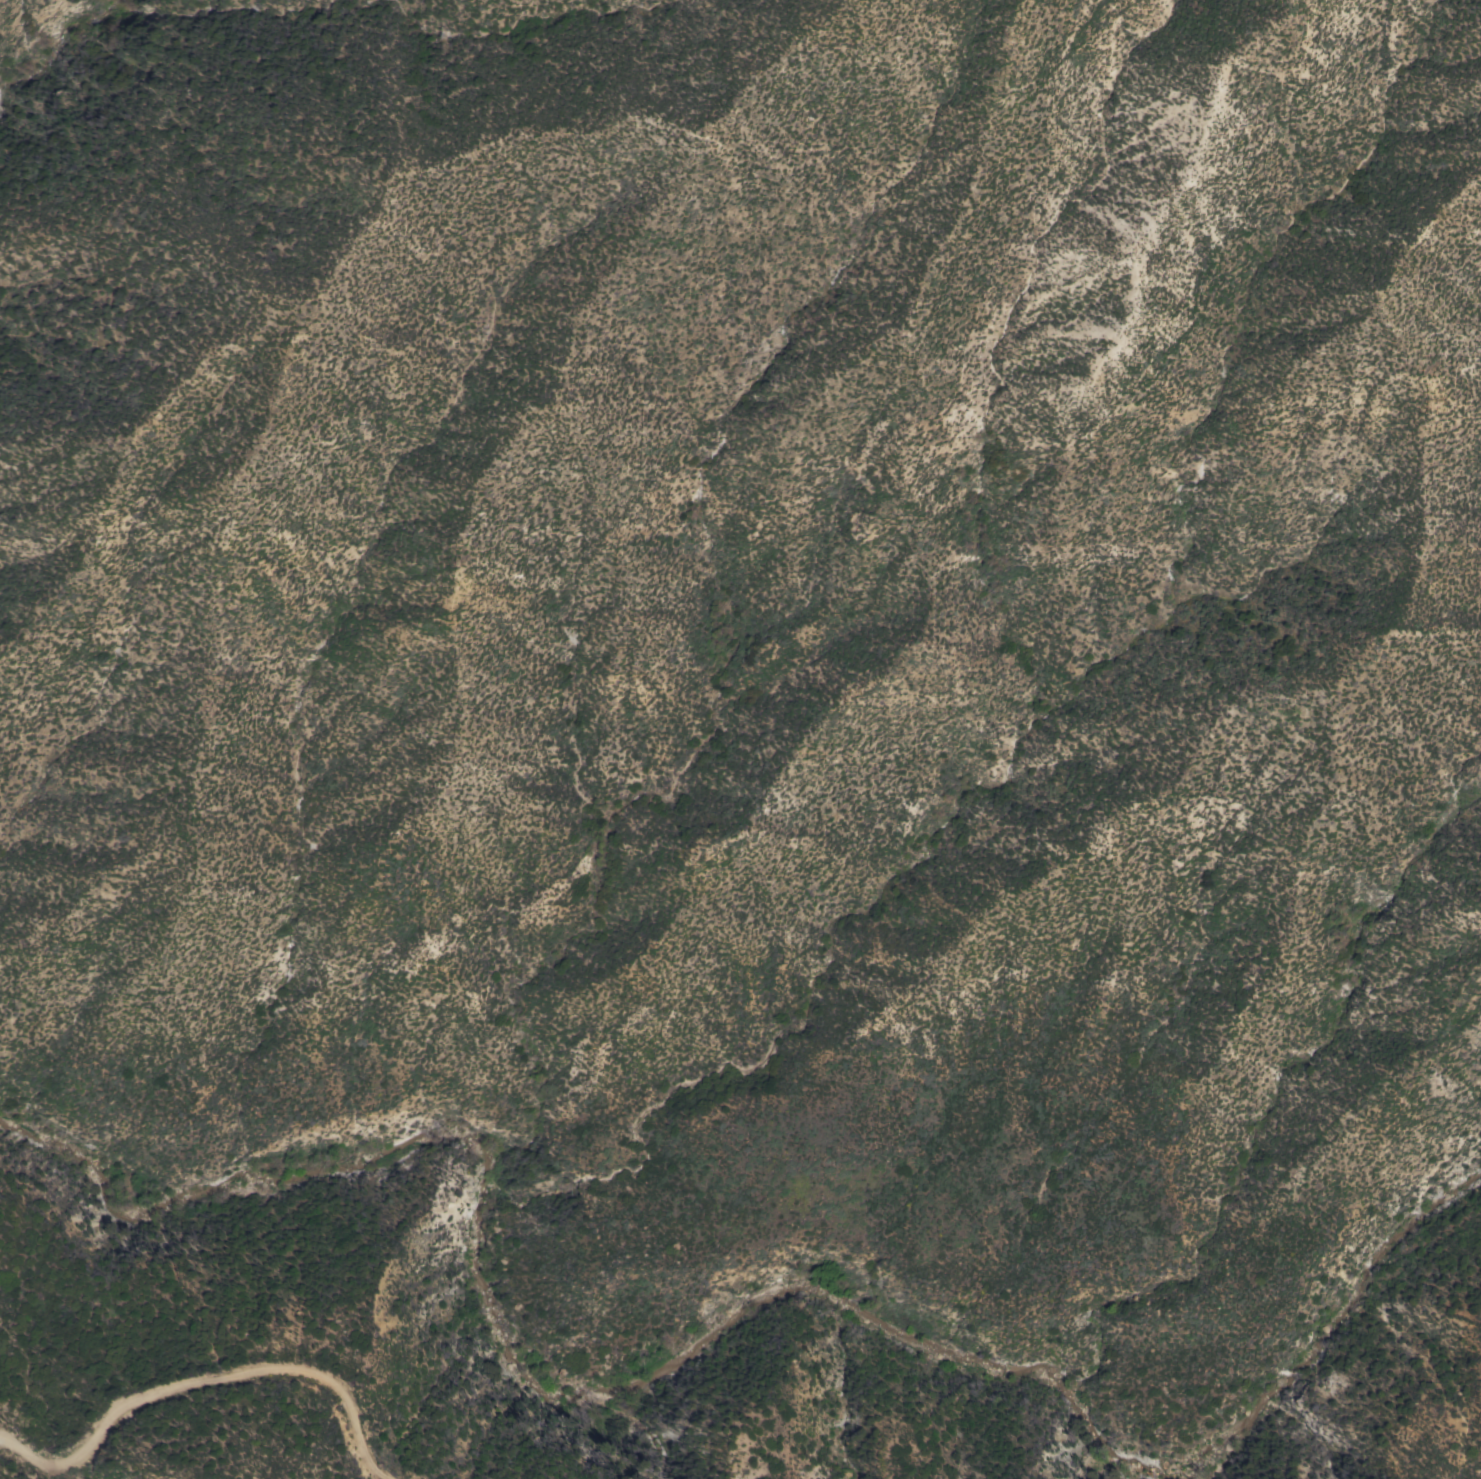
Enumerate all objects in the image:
road: (202, 1386)

